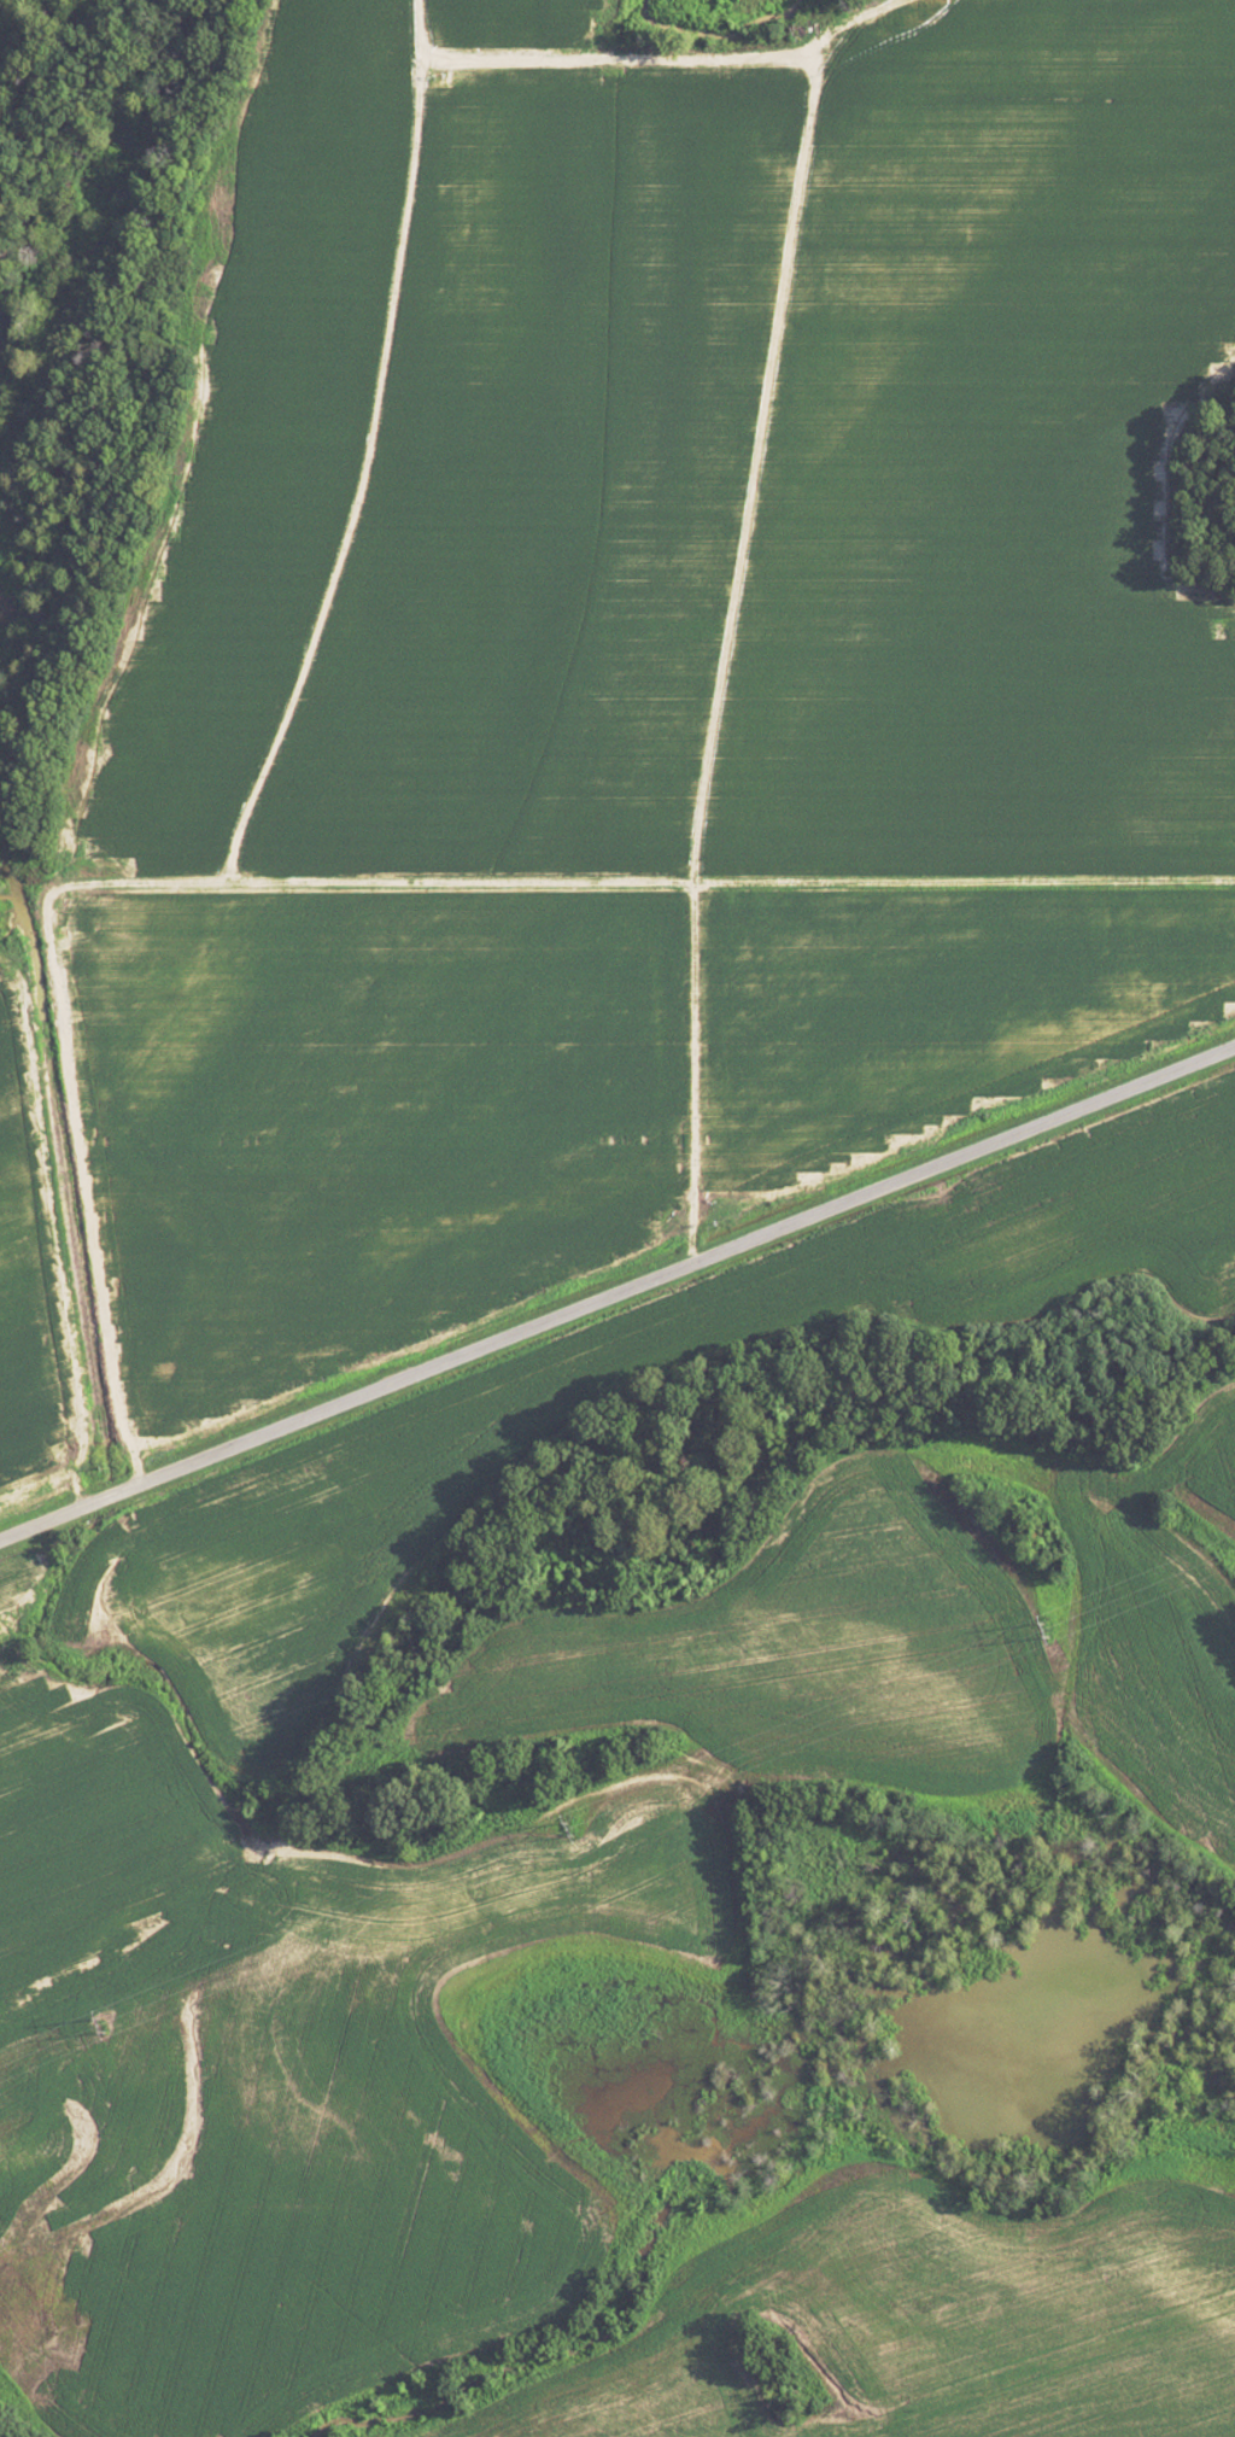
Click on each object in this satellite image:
road: (616, 1293)
road: (316, 1585)
power tower: (1046, 1630)
power tower: (569, 1827)
power tower: (103, 2024)

